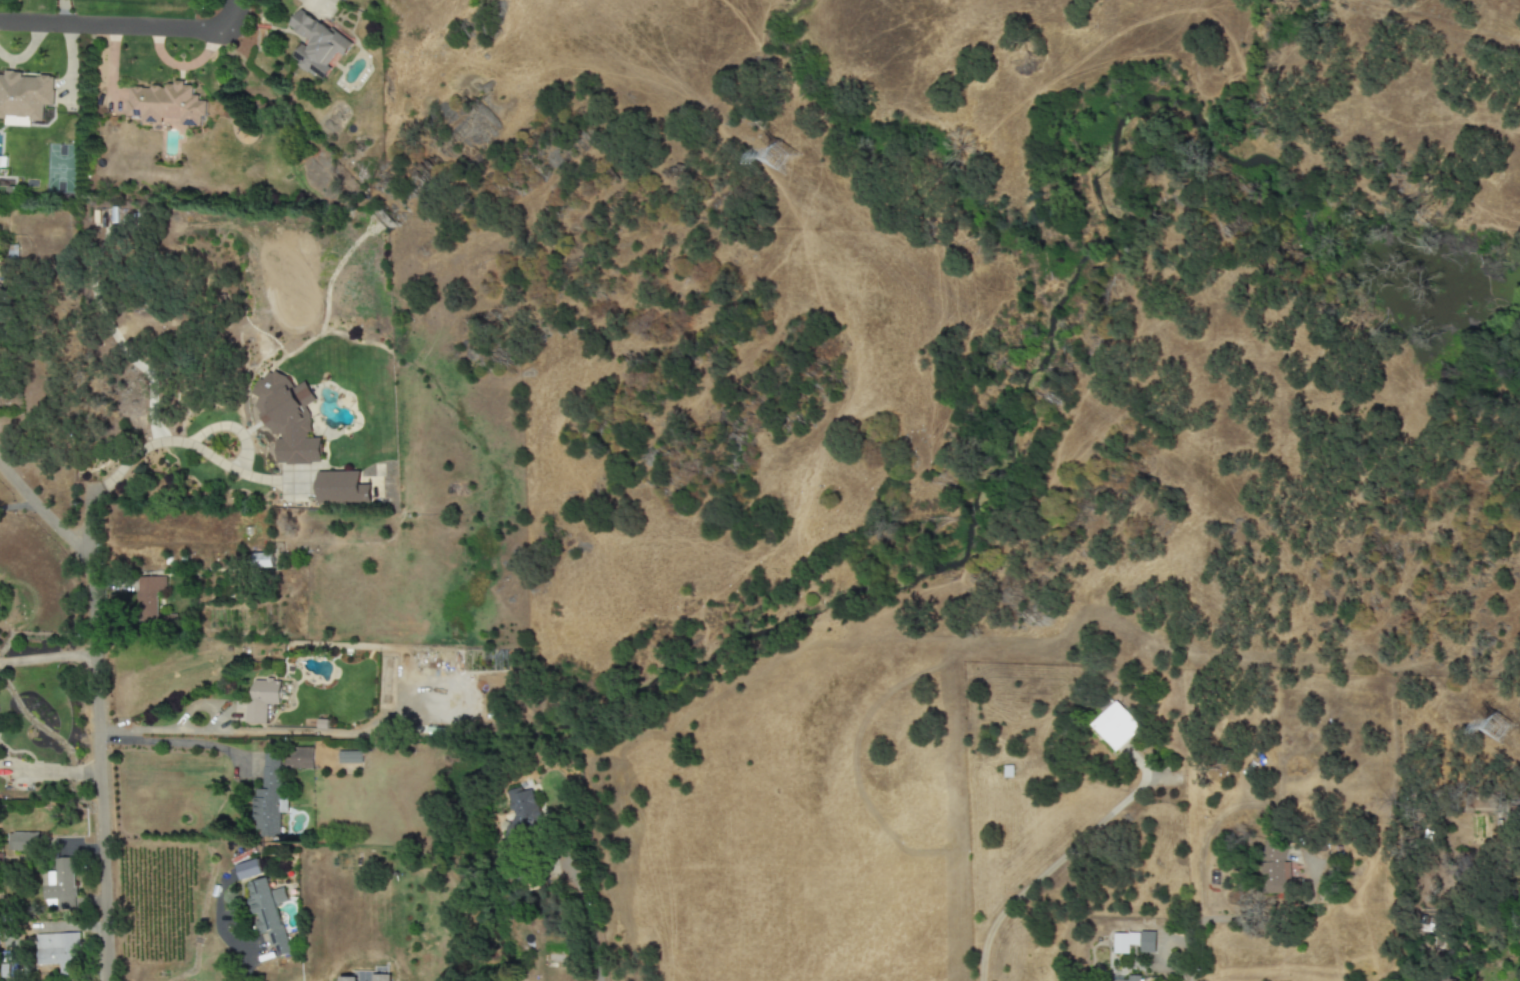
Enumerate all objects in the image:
road: (131, 26)
building: (317, 45)
building: (24, 95)
building: (165, 105)
power tower: (784, 161)
building: (288, 419)
building: (342, 488)
road: (18, 505)
road: (89, 526)
building: (262, 560)
building: (151, 603)
road: (47, 658)
building: (262, 700)
road: (95, 705)
building: (1113, 726)
power tower: (1501, 730)
road: (167, 741)
building: (349, 757)
building: (299, 758)
building: (270, 796)
building: (523, 807)
building: (23, 842)
road: (1060, 859)
building: (1275, 868)
building: (248, 869)
building: (60, 884)
building: (269, 914)
road: (582, 914)
road: (1259, 918)
building: (1133, 942)
road: (240, 950)
building: (58, 951)
road: (1182, 957)
building: (352, 978)
building: (380, 978)
building: (1129, 978)

